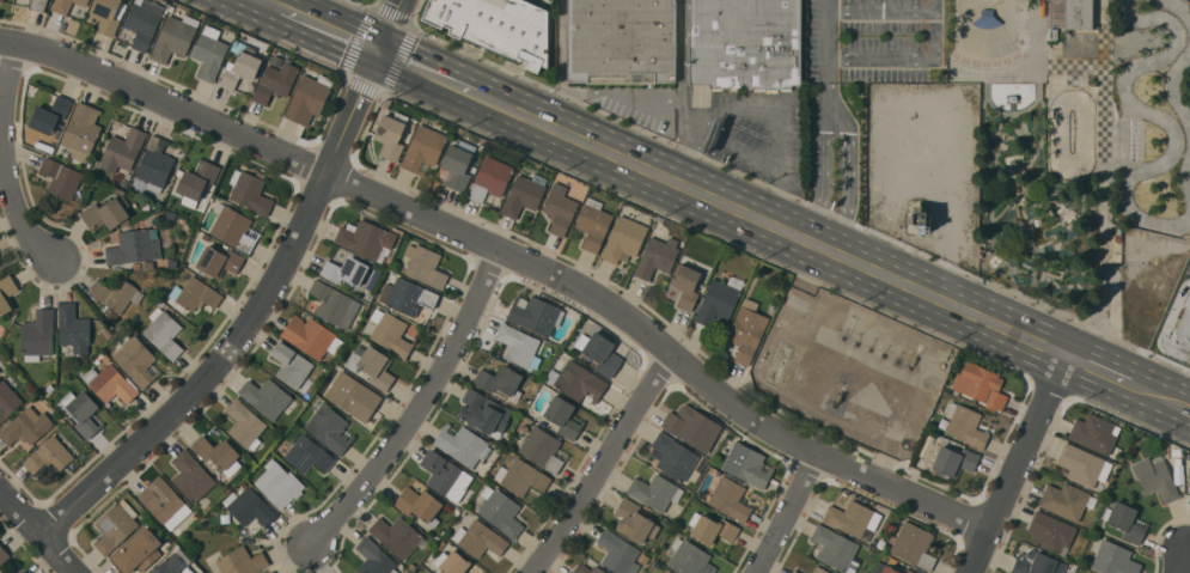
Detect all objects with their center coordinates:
building: (1, 0)
building: (35, 4)
building: (65, 5)
building: (1068, 14)
building: (105, 16)
building: (144, 22)
road: (323, 25)
building: (496, 26)
building: (173, 37)
building: (621, 41)
building: (745, 43)
building: (1078, 44)
road: (561, 47)
traffic signals: (383, 51)
building: (209, 54)
building: (240, 68)
road: (441, 78)
building: (274, 83)
road: (683, 92)
road: (623, 95)
building: (307, 98)
road: (548, 106)
road: (767, 110)
building: (49, 115)
road: (692, 128)
building: (81, 130)
building: (390, 135)
building: (43, 147)
road: (738, 148)
building: (122, 150)
building: (423, 150)
road: (4, 159)
building: (155, 163)
building: (456, 167)
building: (179, 172)
building: (61, 178)
building: (490, 178)
building: (196, 181)
building: (249, 191)
building: (523, 194)
road: (779, 196)
building: (560, 209)
building: (105, 214)
building: (659, 219)
road: (837, 219)
building: (593, 224)
building: (233, 227)
road: (786, 230)
building: (205, 237)
building: (366, 239)
building: (623, 239)
building: (132, 246)
road: (508, 255)
building: (657, 257)
building: (219, 261)
building: (171, 263)
building: (402, 263)
parking lot: (1185, 263)
building: (147, 264)
building: (136, 266)
building: (423, 266)
building: (346, 270)
building: (685, 286)
building: (6, 293)
building: (115, 294)
building: (195, 294)
road: (268, 297)
building: (408, 298)
building: (157, 300)
building: (718, 301)
building: (160, 304)
building: (334, 304)
building: (535, 315)
road: (1166, 327)
building: (73, 328)
building: (1182, 328)
building: (746, 330)
building: (389, 331)
building: (106, 333)
building: (163, 333)
road: (1100, 334)
building: (37, 335)
building: (311, 336)
building: (518, 346)
building: (599, 352)
building: (105, 358)
building: (136, 361)
building: (371, 365)
building: (292, 366)
road: (1105, 372)
building: (500, 380)
building: (578, 382)
building: (110, 384)
building: (980, 385)
building: (49, 389)
petroleum well: (840, 391)
building: (352, 396)
building: (268, 398)
road: (1166, 398)
building: (7, 401)
road: (419, 406)
building: (483, 412)
building: (83, 413)
building: (563, 416)
building: (244, 423)
building: (689, 425)
building: (965, 425)
building: (25, 426)
building: (330, 428)
building: (1094, 433)
building: (462, 444)
building: (543, 449)
building: (215, 452)
building: (1176, 452)
building: (307, 455)
building: (49, 456)
building: (673, 456)
building: (1186, 456)
building: (950, 459)
building: (1177, 461)
road: (602, 464)
road: (1017, 464)
building: (747, 465)
building: (1081, 465)
building: (445, 475)
building: (190, 476)
building: (521, 477)
building: (1155, 477)
building: (277, 483)
building: (654, 492)
building: (728, 498)
building: (1064, 500)
building: (1189, 500)
building: (1189, 502)
building: (165, 504)
building: (419, 505)
building: (249, 507)
building: (501, 512)
road: (787, 513)
building: (850, 518)
building: (633, 522)
building: (1125, 522)
building: (114, 526)
road: (39, 529)
building: (712, 529)
building: (1050, 531)
building: (397, 535)
building: (478, 538)
building: (880, 543)
building: (914, 545)
building: (835, 549)
building: (136, 551)
building: (617, 553)
building: (2, 555)
building: (373, 557)
building: (689, 559)
building: (1113, 559)
road: (1178, 560)
building: (240, 561)
building: (892, 561)
building: (451, 562)
building: (175, 563)
building: (1036, 563)
building: (586, 568)
building: (818, 569)
building: (889, 569)
building: (0, 572)
building: (22, 572)
building: (269, 572)
building: (271, 572)
building: (665, 572)
building: (666, 572)
building: (794, 572)

